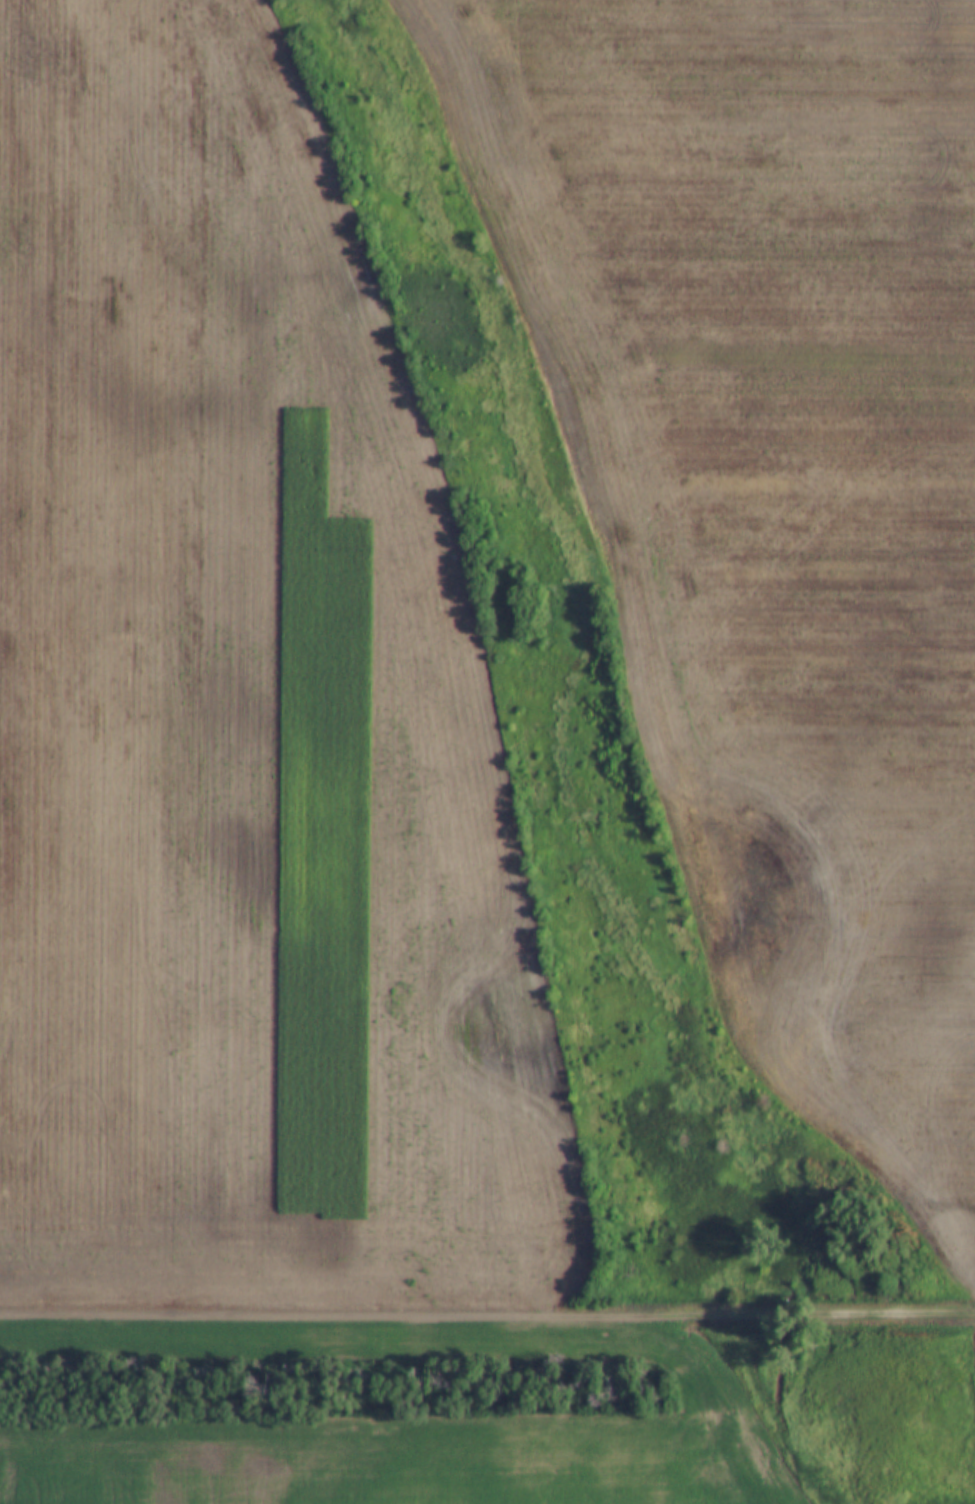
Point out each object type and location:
road: (487, 1314)

